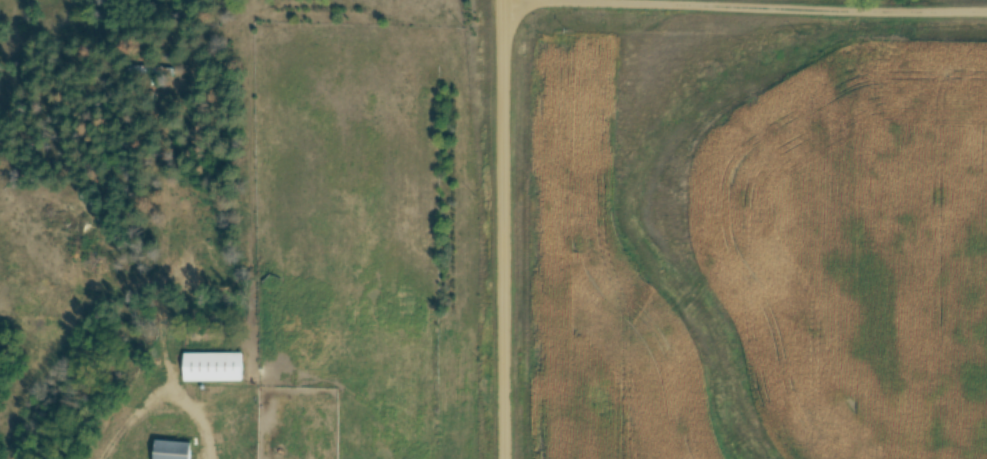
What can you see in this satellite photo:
road: (814, 6)
road: (503, 229)
road: (162, 276)
building: (211, 367)
building: (170, 450)

